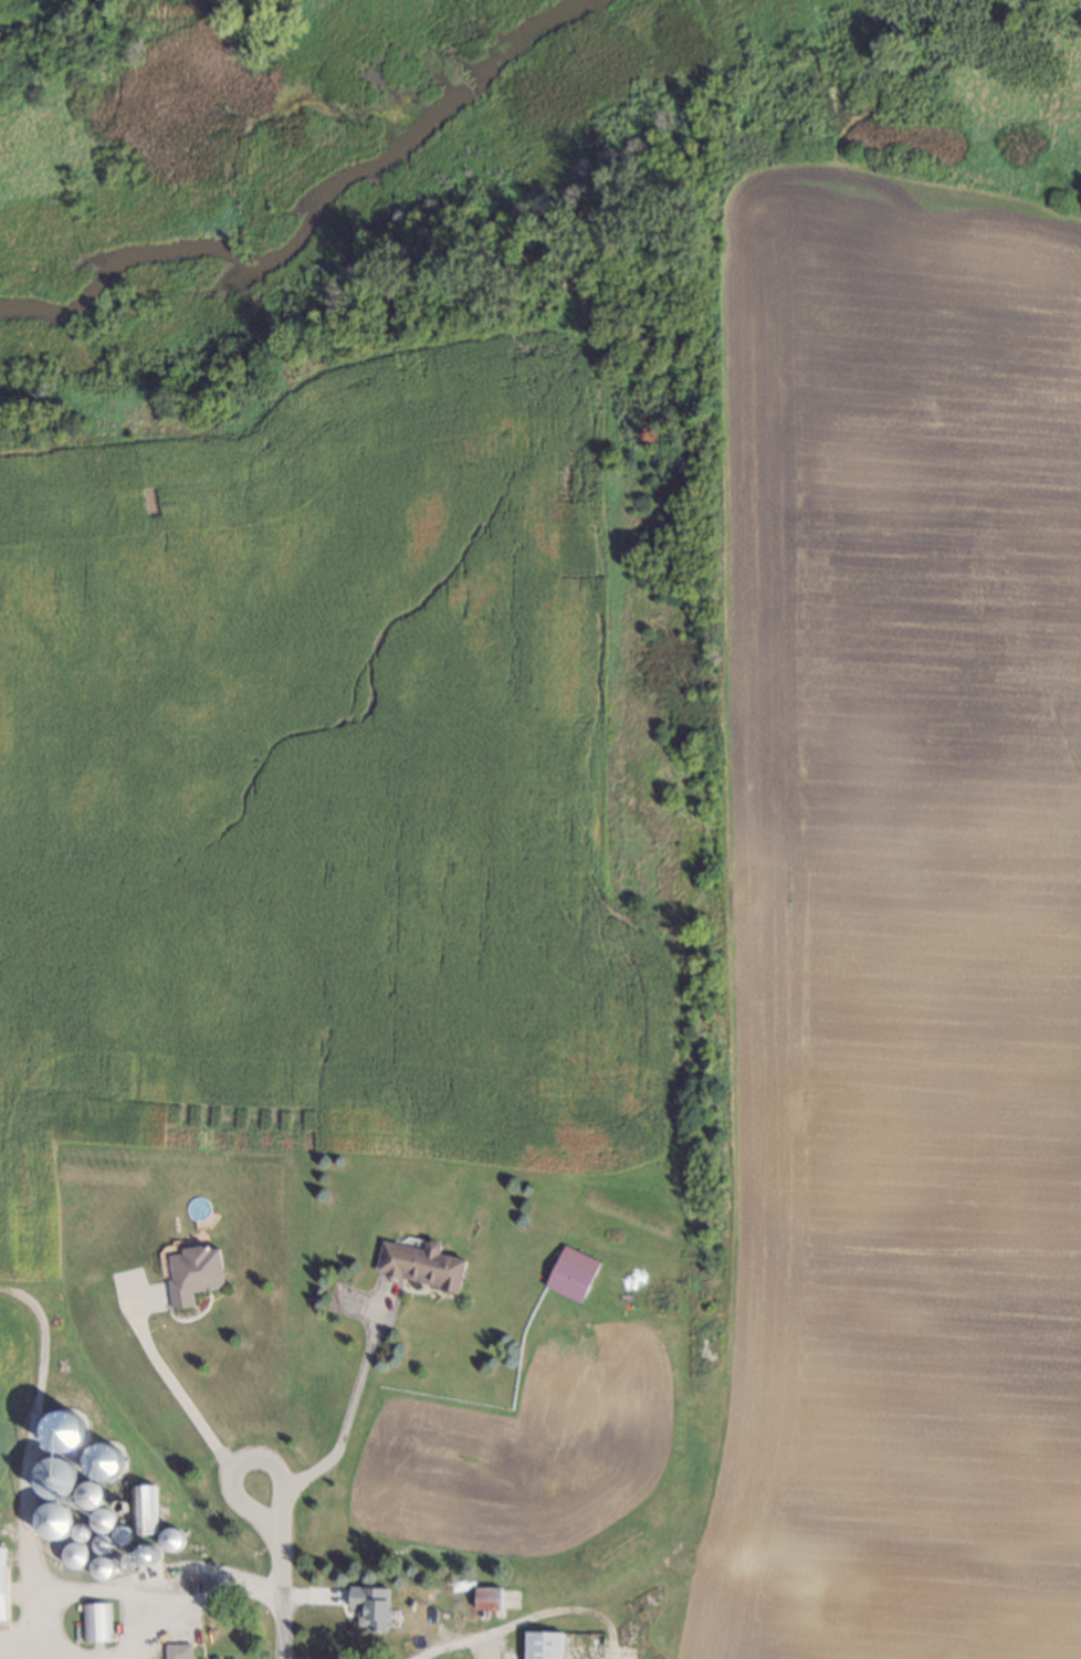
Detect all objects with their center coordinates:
river: (324, 188)
building: (417, 1253)
building: (191, 1271)
building: (568, 1271)
road: (168, 1377)
road: (348, 1406)
building: (66, 1429)
building: (102, 1459)
road: (240, 1462)
building: (53, 1477)
building: (87, 1493)
building: (120, 1505)
building: (145, 1512)
building: (99, 1519)
building: (52, 1521)
building: (78, 1531)
building: (120, 1534)
building: (171, 1539)
building: (101, 1543)
building: (147, 1552)
building: (72, 1554)
building: (3, 1555)
building: (101, 1567)
building: (2, 1592)
road: (70, 1594)
road: (280, 1598)
building: (485, 1599)
building: (368, 1605)
building: (94, 1620)
road: (463, 1637)
building: (558, 1645)
building: (176, 1652)

